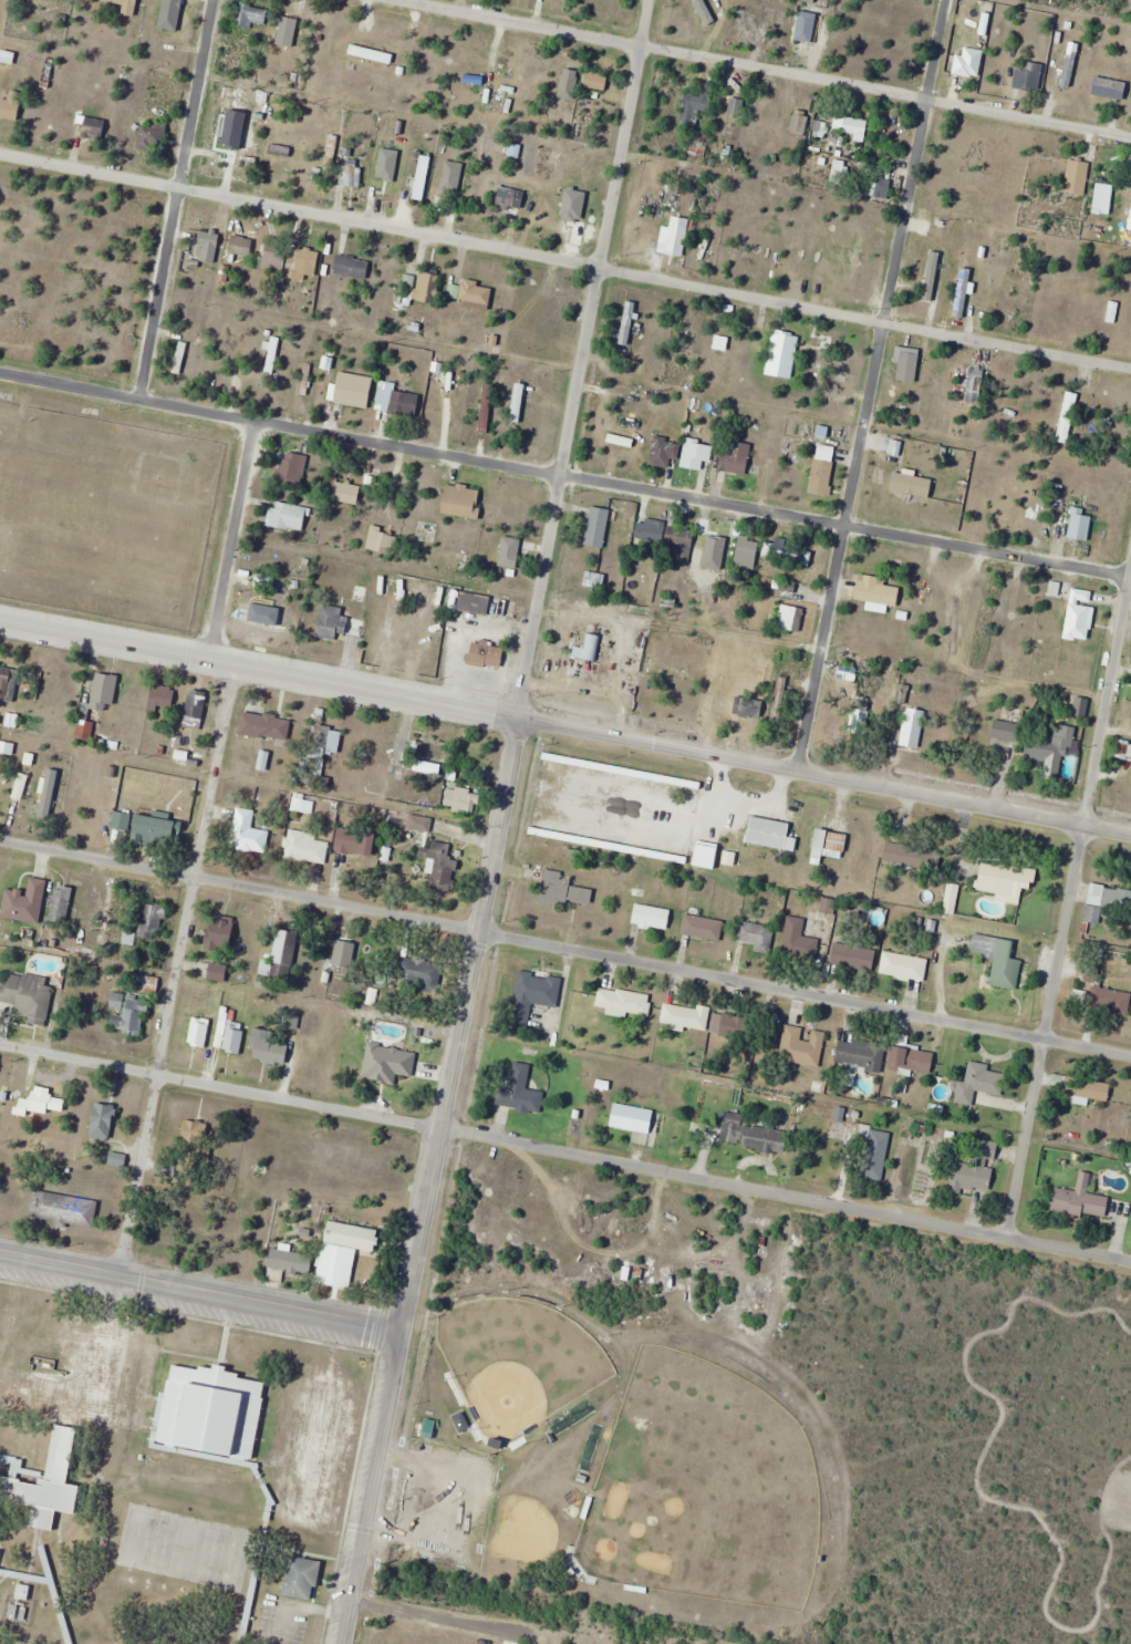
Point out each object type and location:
building: (126, 6)
building: (176, 11)
building: (251, 15)
building: (745, 21)
building: (809, 22)
building: (289, 29)
building: (363, 51)
building: (1130, 59)
building: (969, 62)
building: (1070, 64)
road: (764, 69)
building: (1029, 75)
building: (596, 81)
building: (568, 85)
building: (1110, 89)
building: (527, 94)
building: (697, 102)
building: (497, 103)
building: (11, 106)
building: (736, 107)
building: (799, 126)
building: (854, 127)
building: (95, 128)
building: (154, 137)
building: (252, 151)
building: (280, 151)
building: (350, 173)
building: (1077, 177)
building: (386, 178)
building: (421, 178)
building: (449, 179)
building: (511, 197)
road: (175, 198)
building: (1125, 200)
building: (674, 236)
building: (241, 245)
building: (208, 247)
road: (565, 257)
building: (292, 259)
building: (352, 267)
building: (927, 273)
building: (427, 287)
building: (477, 292)
building: (963, 293)
building: (559, 314)
building: (627, 322)
building: (782, 354)
building: (272, 355)
building: (180, 358)
road: (584, 358)
building: (851, 360)
building: (909, 366)
building: (307, 379)
road: (871, 384)
building: (975, 385)
building: (354, 390)
building: (396, 400)
building: (488, 407)
building: (665, 452)
building: (698, 452)
building: (736, 456)
building: (292, 469)
building: (823, 471)
road: (565, 474)
building: (912, 485)
building: (347, 493)
building: (461, 502)
building: (287, 517)
building: (1075, 525)
building: (598, 527)
building: (667, 537)
road: (235, 538)
building: (383, 539)
building: (713, 544)
building: (512, 546)
building: (747, 551)
building: (788, 557)
building: (282, 563)
building: (594, 580)
building: (262, 582)
building: (1066, 591)
building: (876, 593)
building: (481, 604)
building: (257, 613)
building: (788, 617)
building: (333, 622)
road: (454, 622)
building: (1079, 622)
building: (589, 647)
building: (487, 654)
road: (260, 666)
building: (668, 672)
building: (8, 681)
building: (781, 685)
building: (162, 699)
building: (750, 706)
building: (195, 710)
building: (266, 726)
building: (913, 727)
building: (85, 728)
building: (1006, 730)
building: (1050, 749)
building: (401, 756)
building: (429, 756)
road: (826, 775)
building: (21, 786)
building: (460, 798)
building: (121, 820)
building: (419, 823)
building: (159, 828)
building: (248, 833)
building: (759, 833)
building: (356, 841)
building: (830, 845)
building: (307, 847)
building: (907, 854)
building: (1006, 881)
building: (564, 888)
building: (951, 900)
building: (1104, 901)
road: (1069, 903)
building: (61, 906)
building: (1130, 908)
building: (96, 911)
building: (652, 917)
building: (153, 922)
building: (703, 927)
building: (221, 932)
building: (755, 934)
building: (799, 937)
road: (565, 949)
building: (281, 954)
building: (344, 954)
building: (853, 958)
building: (999, 960)
building: (904, 966)
road: (175, 969)
building: (218, 972)
building: (417, 973)
building: (533, 994)
building: (28, 995)
building: (624, 1001)
building: (1109, 1001)
building: (128, 1014)
building: (685, 1016)
road: (459, 1023)
building: (733, 1026)
building: (199, 1032)
building: (230, 1035)
building: (801, 1046)
building: (272, 1052)
building: (860, 1054)
building: (913, 1058)
building: (388, 1063)
building: (978, 1083)
building: (1083, 1087)
building: (519, 1089)
building: (45, 1105)
building: (639, 1118)
building: (103, 1120)
building: (196, 1133)
building: (754, 1135)
road: (565, 1150)
building: (874, 1155)
building: (118, 1159)
building: (975, 1169)
building: (1081, 1202)
building: (63, 1209)
building: (289, 1263)
building: (329, 1265)
road: (200, 1292)
park: (517, 1362)
building: (212, 1409)
building: (75, 1418)
building: (318, 1448)
road: (375, 1487)
park: (703, 1488)
building: (0, 1551)
building: (302, 1576)

